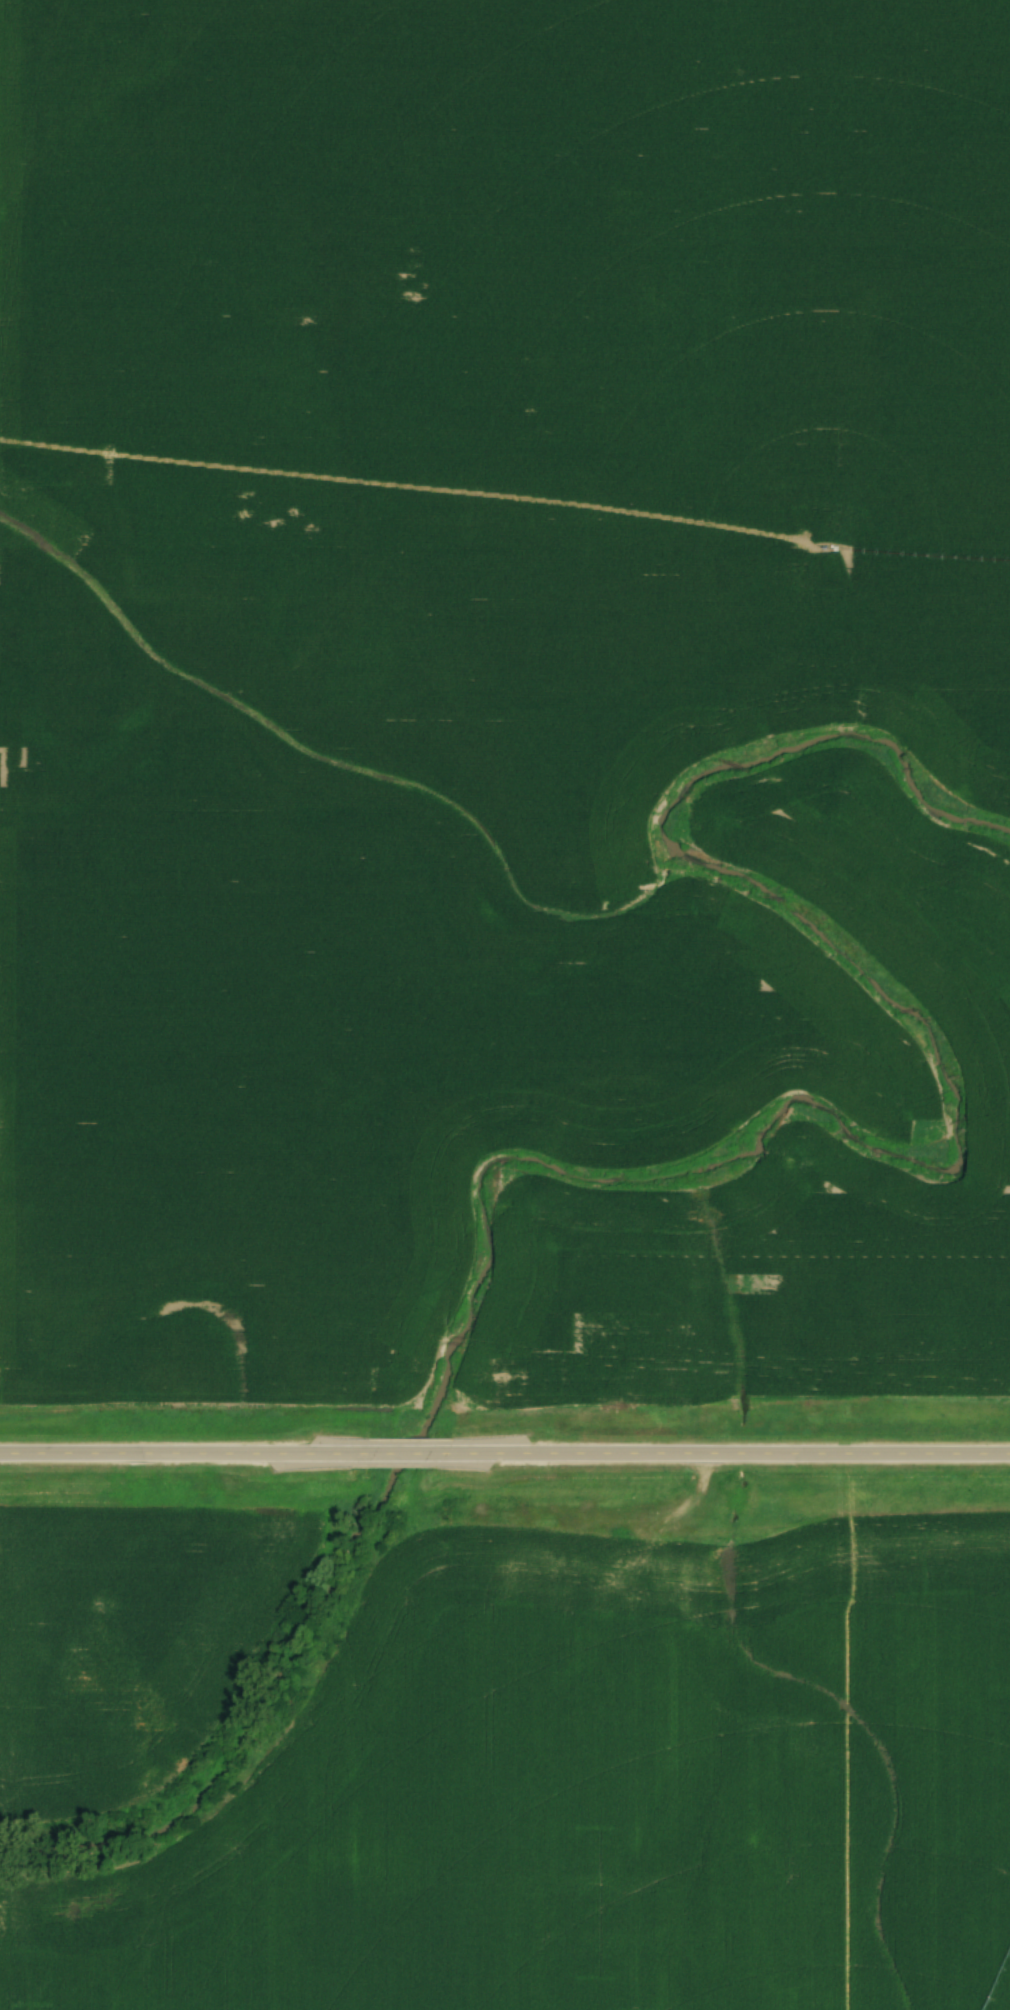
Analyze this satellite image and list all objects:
road: (185, 1455)
road: (725, 1456)
road: (406, 1457)

